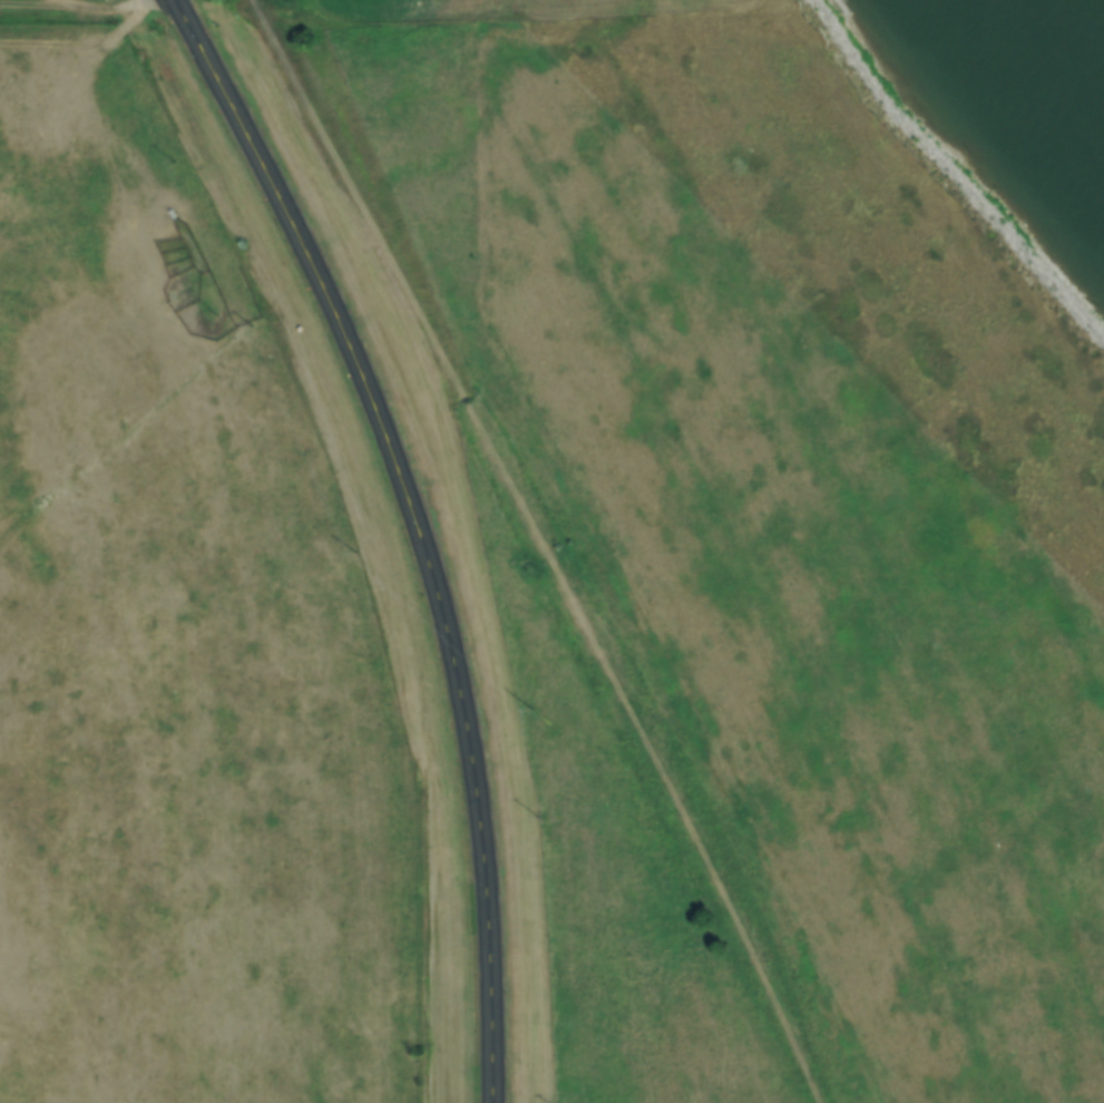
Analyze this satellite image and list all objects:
road: (88, 7)
road: (419, 527)

